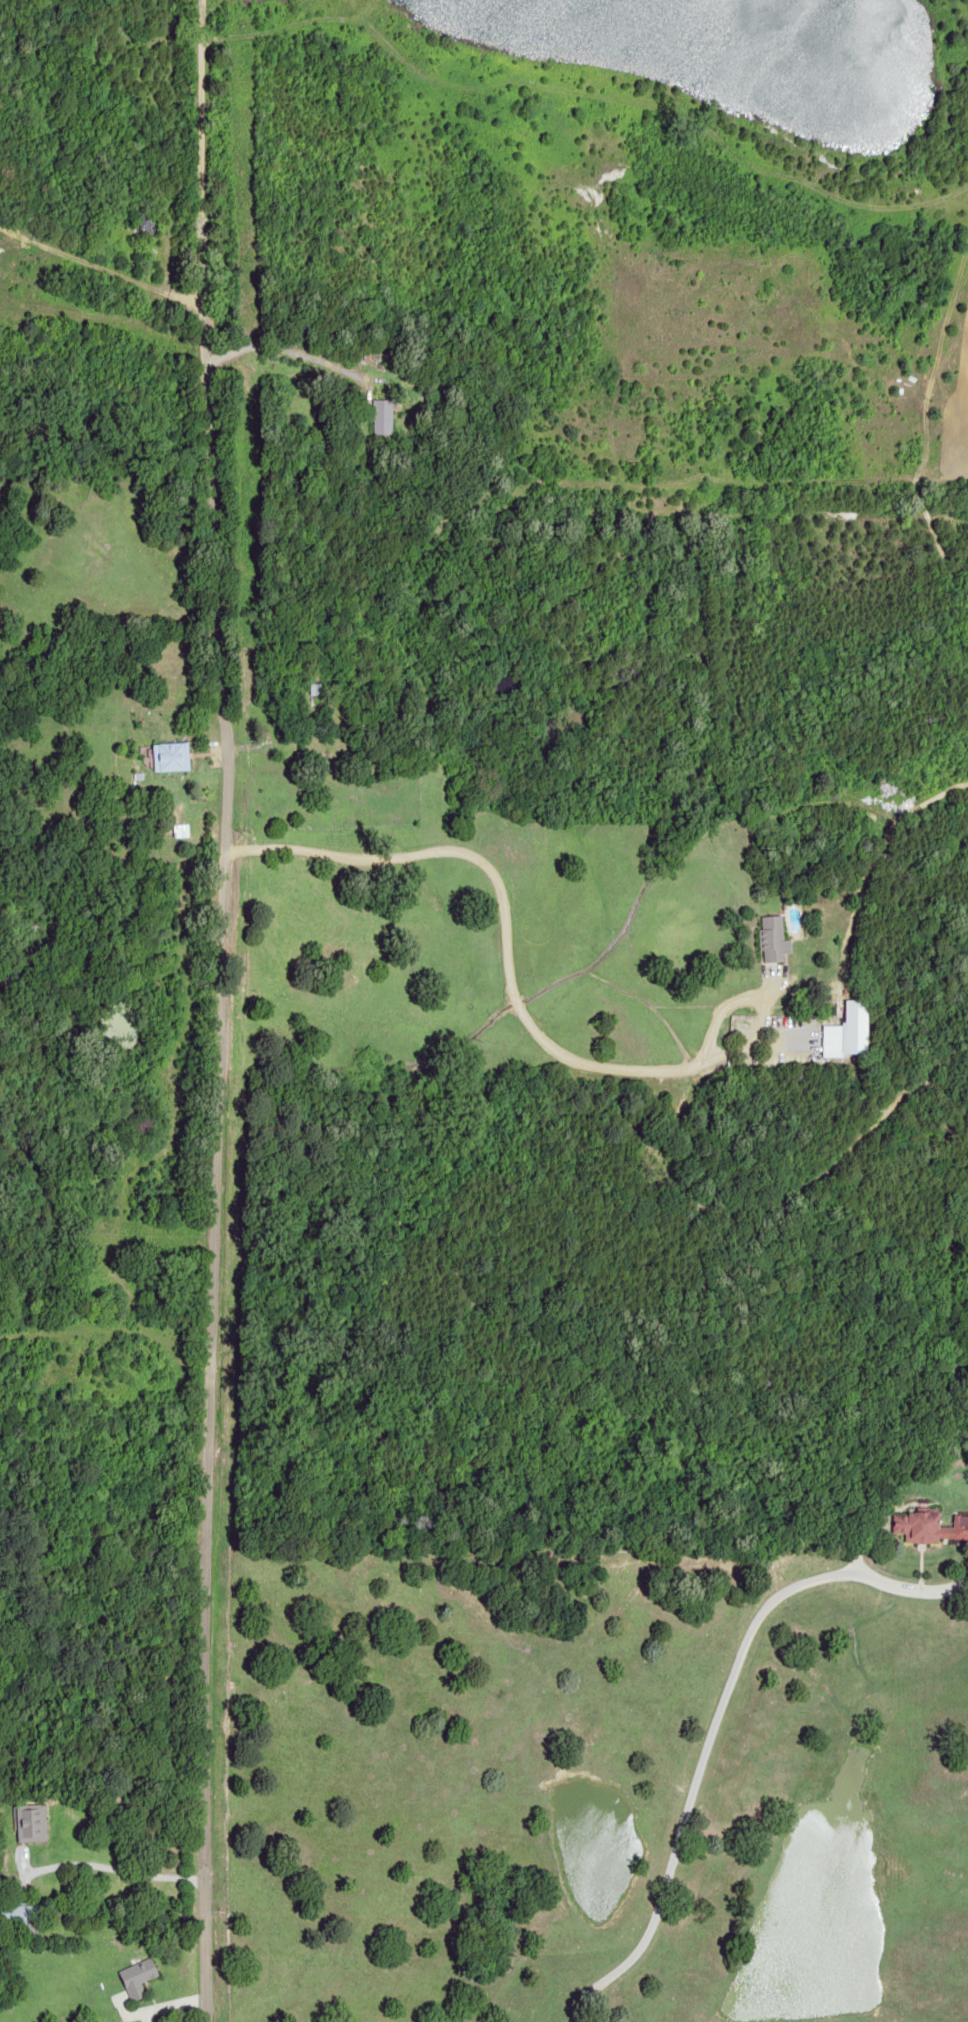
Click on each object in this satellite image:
building: (144, 222)
road: (98, 265)
road: (268, 349)
building: (381, 415)
building: (170, 756)
building: (771, 939)
road: (503, 970)
road: (218, 1010)
building: (849, 1020)
building: (831, 1041)
building: (929, 1528)
road: (712, 1727)
building: (30, 1823)
building: (19, 1916)
building: (137, 1979)

